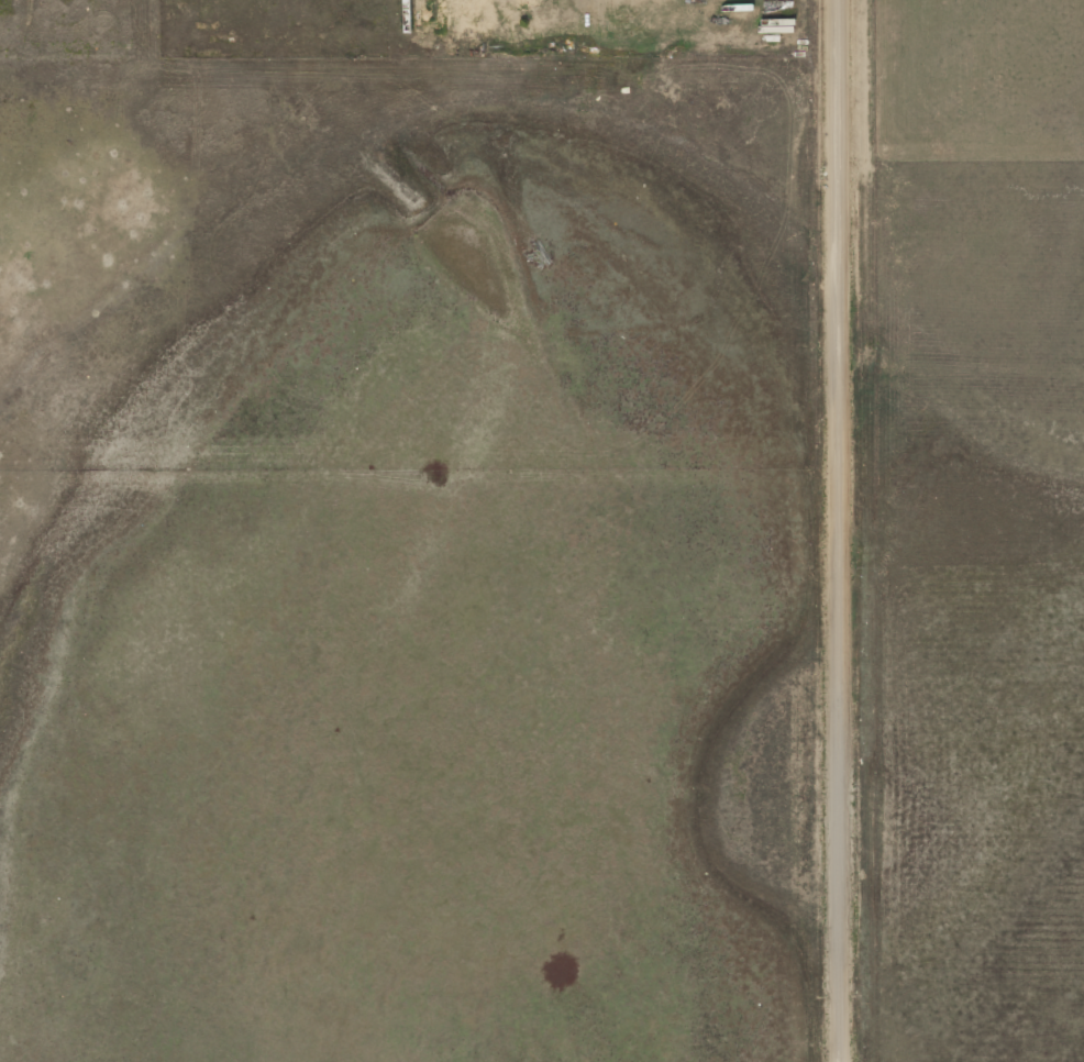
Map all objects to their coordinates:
road: (839, 531)

